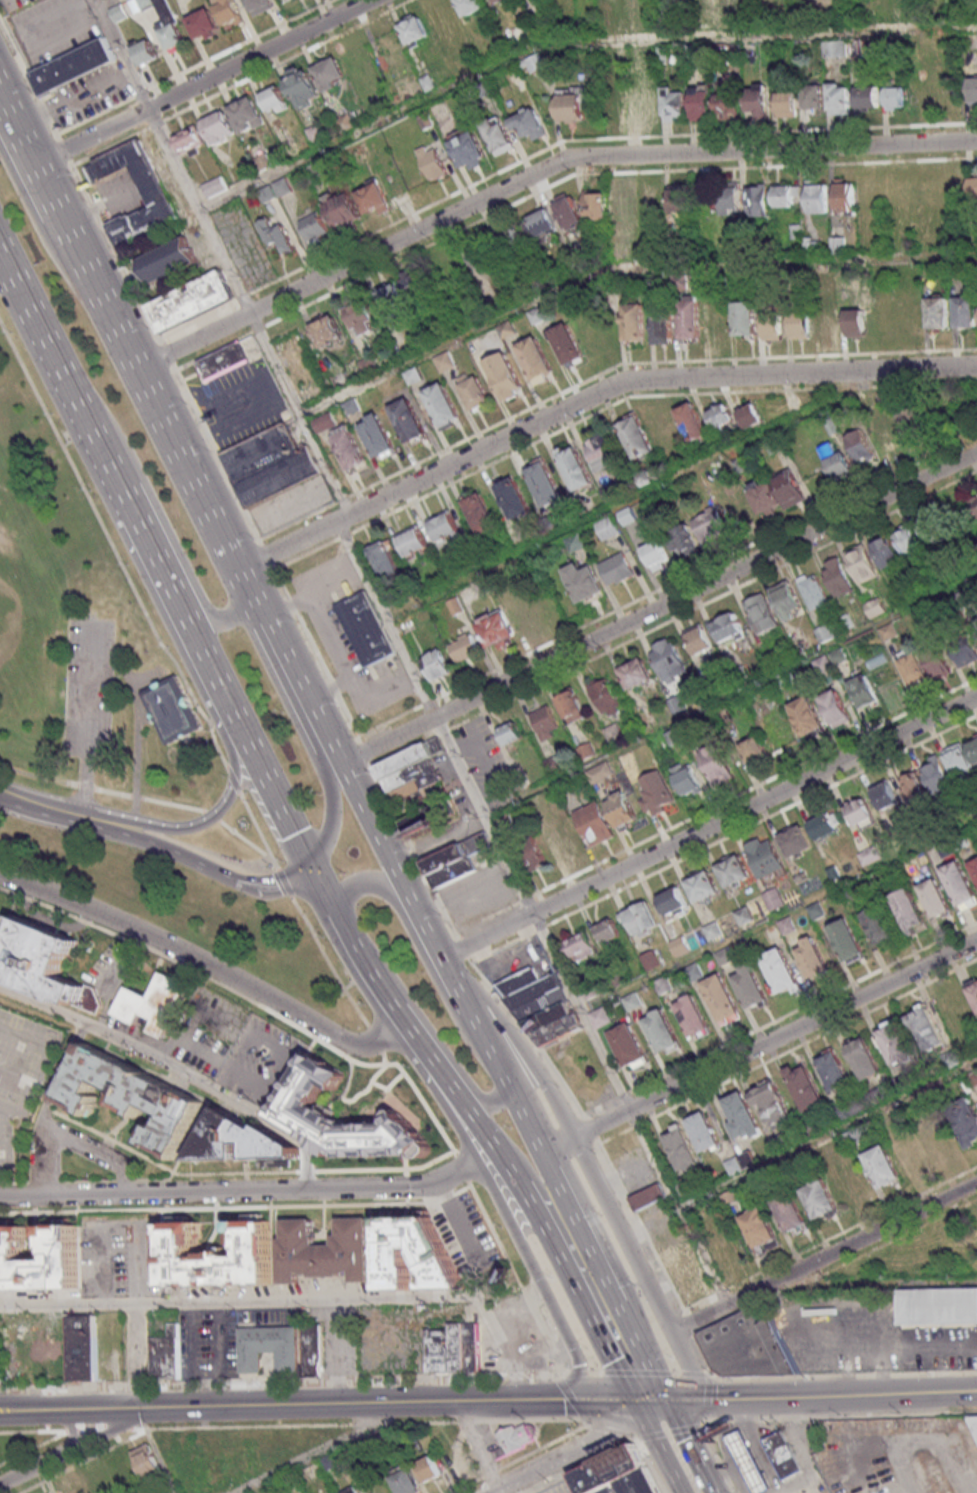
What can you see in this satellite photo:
building: (281, 0)
building: (500, 1)
road: (103, 3)
building: (261, 6)
building: (471, 6)
building: (230, 11)
building: (119, 13)
building: (167, 22)
building: (203, 23)
building: (34, 28)
building: (414, 29)
road: (567, 38)
building: (834, 48)
building: (147, 52)
road: (119, 54)
building: (534, 62)
building: (72, 68)
building: (331, 73)
road: (202, 81)
road: (238, 82)
building: (303, 86)
building: (920, 88)
building: (973, 90)
building: (813, 96)
building: (274, 97)
building: (868, 97)
building: (895, 97)
building: (839, 98)
building: (758, 99)
building: (702, 101)
building: (572, 102)
building: (675, 103)
building: (786, 103)
building: (647, 104)
building: (617, 105)
building: (729, 105)
building: (247, 115)
building: (529, 123)
building: (205, 134)
building: (500, 135)
building: (469, 150)
road: (595, 158)
building: (432, 161)
building: (973, 186)
building: (282, 187)
building: (156, 195)
building: (787, 195)
building: (845, 195)
building: (817, 196)
building: (731, 197)
building: (681, 198)
building: (375, 199)
building: (758, 199)
building: (596, 205)
building: (625, 205)
building: (344, 209)
building: (569, 212)
building: (545, 222)
building: (314, 227)
road: (41, 235)
building: (276, 235)
building: (513, 239)
road: (241, 242)
building: (167, 259)
building: (473, 259)
road: (251, 265)
road: (621, 269)
building: (417, 283)
building: (394, 300)
building: (190, 301)
building: (966, 309)
road: (247, 311)
building: (938, 312)
building: (690, 317)
building: (363, 318)
building: (745, 319)
building: (633, 322)
building: (717, 322)
building: (856, 322)
building: (828, 323)
building: (772, 326)
building: (801, 326)
building: (663, 328)
building: (327, 331)
road: (191, 340)
building: (566, 344)
building: (536, 359)
building: (222, 360)
building: (506, 375)
road: (648, 380)
road: (65, 384)
building: (473, 390)
building: (443, 405)
building: (751, 415)
building: (722, 417)
road: (161, 421)
building: (409, 421)
building: (693, 421)
building: (890, 436)
building: (378, 437)
building: (637, 437)
road: (65, 441)
building: (861, 446)
building: (349, 448)
building: (602, 453)
building: (835, 459)
building: (268, 466)
building: (575, 467)
building: (544, 481)
road: (639, 492)
building: (777, 492)
building: (513, 497)
building: (974, 505)
building: (480, 512)
building: (740, 512)
building: (628, 515)
road: (162, 523)
building: (709, 523)
building: (444, 526)
building: (607, 528)
building: (934, 529)
building: (683, 539)
building: (412, 540)
road: (292, 541)
building: (575, 542)
building: (909, 542)
road: (110, 547)
building: (887, 551)
building: (657, 554)
building: (384, 558)
building: (862, 562)
building: (617, 568)
building: (838, 576)
building: (584, 581)
road: (704, 583)
building: (813, 589)
road: (285, 594)
building: (788, 599)
building: (876, 607)
building: (530, 611)
building: (762, 613)
road: (384, 618)
road: (183, 621)
building: (976, 624)
building: (728, 626)
building: (366, 627)
building: (496, 629)
building: (699, 638)
building: (464, 647)
building: (966, 650)
building: (838, 656)
building: (668, 659)
building: (937, 662)
building: (436, 664)
building: (823, 664)
building: (915, 668)
building: (637, 674)
road: (112, 675)
building: (798, 675)
parking lot: (87, 688)
building: (864, 691)
road: (730, 694)
building: (606, 695)
building: (571, 705)
building: (169, 708)
power substation: (169, 708)
building: (836, 709)
building: (808, 717)
building: (545, 722)
road: (86, 727)
building: (510, 732)
building: (614, 733)
park: (119, 737)
road: (386, 738)
road: (135, 747)
building: (754, 749)
building: (973, 749)
road: (333, 753)
building: (958, 758)
building: (716, 763)
building: (412, 770)
building: (600, 772)
building: (937, 773)
road: (31, 774)
building: (687, 778)
road: (232, 779)
building: (912, 784)
building: (656, 792)
building: (886, 794)
road: (133, 795)
road: (271, 797)
road: (755, 805)
road: (59, 808)
building: (622, 809)
road: (129, 812)
building: (861, 812)
road: (210, 814)
road: (483, 814)
road: (210, 815)
road: (331, 816)
building: (428, 820)
building: (594, 823)
building: (825, 825)
road: (256, 831)
building: (562, 837)
road: (244, 840)
building: (796, 840)
road: (120, 841)
building: (530, 853)
building: (871, 854)
building: (764, 855)
building: (454, 860)
building: (974, 866)
traffic signals: (308, 867)
building: (733, 869)
road: (212, 871)
road: (282, 883)
building: (960, 884)
building: (703, 886)
building: (935, 898)
building: (774, 899)
building: (673, 900)
building: (910, 910)
road: (778, 914)
building: (642, 917)
building: (880, 925)
road: (340, 928)
building: (609, 930)
road: (487, 936)
building: (848, 941)
building: (680, 945)
building: (580, 946)
building: (813, 957)
road: (422, 958)
road: (325, 962)
road: (206, 964)
building: (42, 966)
building: (779, 971)
parking lot: (110, 973)
road: (451, 977)
road: (345, 985)
building: (751, 986)
building: (973, 990)
road: (248, 998)
building: (722, 999)
building: (154, 1004)
building: (542, 1006)
building: (600, 1017)
building: (693, 1017)
road: (426, 1025)
building: (926, 1029)
building: (662, 1032)
parking lot: (207, 1035)
road: (373, 1039)
building: (894, 1041)
building: (630, 1045)
road: (759, 1046)
parking lot: (18, 1053)
road: (381, 1058)
building: (865, 1058)
parking lot: (259, 1062)
road: (41, 1065)
building: (834, 1070)
road: (175, 1071)
road: (17, 1076)
road: (272, 1084)
road: (377, 1085)
building: (805, 1085)
building: (130, 1098)
road: (456, 1099)
road: (349, 1100)
building: (772, 1103)
building: (294, 1105)
road: (383, 1106)
road: (46, 1107)
road: (399, 1109)
road: (629, 1110)
building: (742, 1116)
building: (966, 1120)
building: (704, 1131)
road: (827, 1134)
building: (240, 1141)
parking lot: (5, 1142)
building: (683, 1149)
road: (95, 1153)
road: (582, 1156)
building: (741, 1162)
building: (883, 1166)
road: (460, 1167)
road: (589, 1168)
road: (313, 1170)
road: (126, 1179)
building: (853, 1180)
road: (250, 1190)
building: (649, 1196)
building: (820, 1199)
road: (236, 1207)
building: (790, 1211)
road: (504, 1215)
building: (473, 1226)
building: (760, 1230)
parking lot: (473, 1234)
road: (451, 1239)
building: (326, 1251)
building: (216, 1253)
building: (436, 1253)
building: (66, 1256)
road: (823, 1257)
parking lot: (121, 1258)
road: (627, 1268)
building: (686, 1271)
road: (518, 1280)
road: (599, 1298)
road: (239, 1301)
building: (940, 1305)
road: (192, 1313)
road: (134, 1315)
building: (460, 1346)
road: (503, 1346)
building: (751, 1346)
building: (82, 1347)
building: (268, 1347)
building: (475, 1347)
road: (904, 1347)
building: (316, 1350)
building: (442, 1350)
building: (164, 1356)
building: (0, 1362)
road: (598, 1375)
road: (580, 1376)
road: (640, 1376)
road: (680, 1377)
road: (698, 1377)
road: (566, 1378)
road: (712, 1378)
road: (280, 1380)
road: (714, 1380)
road: (840, 1395)
road: (601, 1398)
road: (575, 1399)
traffic signals: (650, 1399)
road: (677, 1399)
road: (457, 1400)
road: (712, 1401)
road: (256, 1404)
road: (144, 1408)
road: (99, 1409)
road: (31, 1410)
road: (838, 1416)
road: (132, 1417)
road: (362, 1422)
road: (589, 1422)
building: (975, 1423)
road: (119, 1427)
road: (71, 1428)
road: (91, 1428)
road: (71, 1430)
road: (32, 1431)
road: (611, 1432)
road: (670, 1435)
road: (91, 1438)
building: (514, 1439)
road: (690, 1440)
road: (637, 1442)
road: (799, 1445)
road: (660, 1447)
road: (573, 1453)
road: (311, 1455)
building: (786, 1455)
road: (717, 1456)
building: (148, 1461)
building: (751, 1461)
road: (648, 1465)
road: (34, 1466)
building: (429, 1468)
building: (618, 1473)
building: (405, 1480)
building: (73, 1489)
building: (350, 1490)
road: (498, 1490)
building: (51, 1492)

